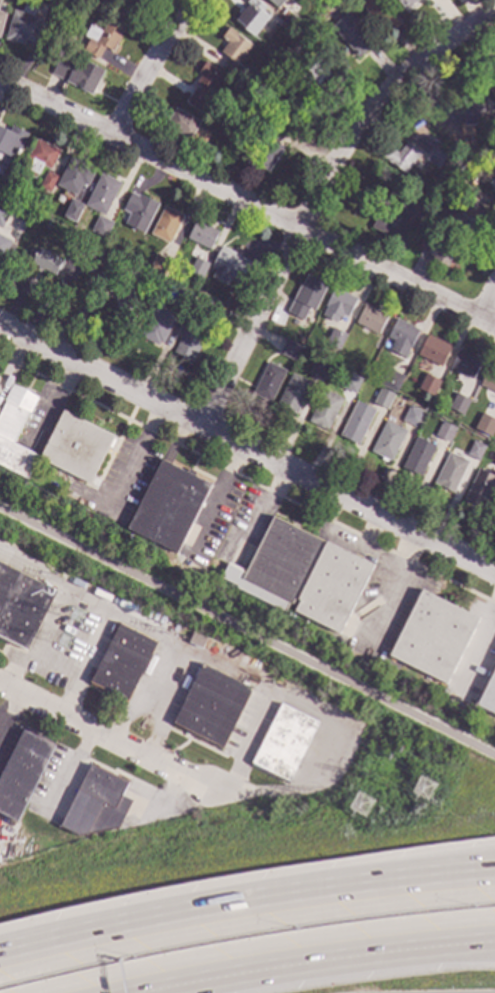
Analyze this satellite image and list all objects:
building: (138, 0)
building: (142, 0)
building: (0, 1)
building: (275, 1)
building: (56, 2)
building: (403, 2)
building: (249, 13)
building: (380, 13)
road: (493, 13)
building: (1, 17)
building: (21, 26)
building: (350, 31)
building: (315, 36)
building: (102, 37)
building: (231, 46)
building: (308, 47)
building: (277, 54)
road: (149, 65)
building: (489, 70)
building: (79, 75)
building: (201, 81)
building: (300, 81)
building: (472, 105)
building: (488, 111)
building: (489, 119)
building: (185, 123)
building: (10, 140)
building: (270, 143)
building: (437, 153)
building: (41, 156)
building: (401, 157)
building: (74, 176)
building: (47, 181)
building: (491, 192)
building: (102, 194)
road: (318, 195)
road: (247, 203)
building: (72, 210)
building: (138, 211)
building: (393, 212)
building: (2, 217)
building: (466, 217)
building: (166, 224)
building: (101, 226)
building: (201, 234)
building: (3, 245)
building: (90, 247)
building: (441, 249)
building: (99, 257)
building: (42, 259)
building: (159, 265)
building: (228, 266)
building: (70, 267)
building: (197, 267)
building: (305, 296)
building: (182, 299)
road: (486, 302)
building: (122, 304)
building: (337, 305)
building: (207, 308)
building: (370, 319)
building: (157, 326)
building: (335, 338)
building: (400, 338)
building: (189, 341)
building: (290, 350)
building: (433, 350)
building: (331, 353)
building: (464, 364)
building: (320, 368)
building: (360, 373)
building: (392, 379)
building: (488, 379)
building: (268, 381)
building: (349, 382)
building: (427, 386)
building: (292, 394)
building: (383, 399)
building: (458, 404)
building: (325, 411)
building: (413, 417)
building: (356, 423)
building: (485, 424)
building: (15, 431)
building: (444, 432)
building: (387, 442)
building: (75, 447)
road: (247, 449)
road: (139, 450)
building: (474, 451)
building: (417, 457)
building: (494, 464)
building: (494, 465)
building: (450, 473)
building: (479, 489)
road: (216, 501)
building: (168, 506)
building: (275, 565)
building: (331, 587)
building: (21, 606)
power tower: (78, 619)
road: (136, 626)
road: (247, 633)
building: (432, 637)
building: (196, 641)
road: (478, 642)
power tower: (66, 645)
building: (121, 662)
building: (488, 695)
building: (210, 705)
road: (11, 710)
road: (324, 722)
road: (108, 734)
building: (283, 742)
road: (71, 767)
building: (22, 773)
building: (423, 789)
power tower: (426, 791)
building: (96, 804)
power tower: (363, 807)
road: (440, 875)
road: (192, 914)
road: (319, 961)

